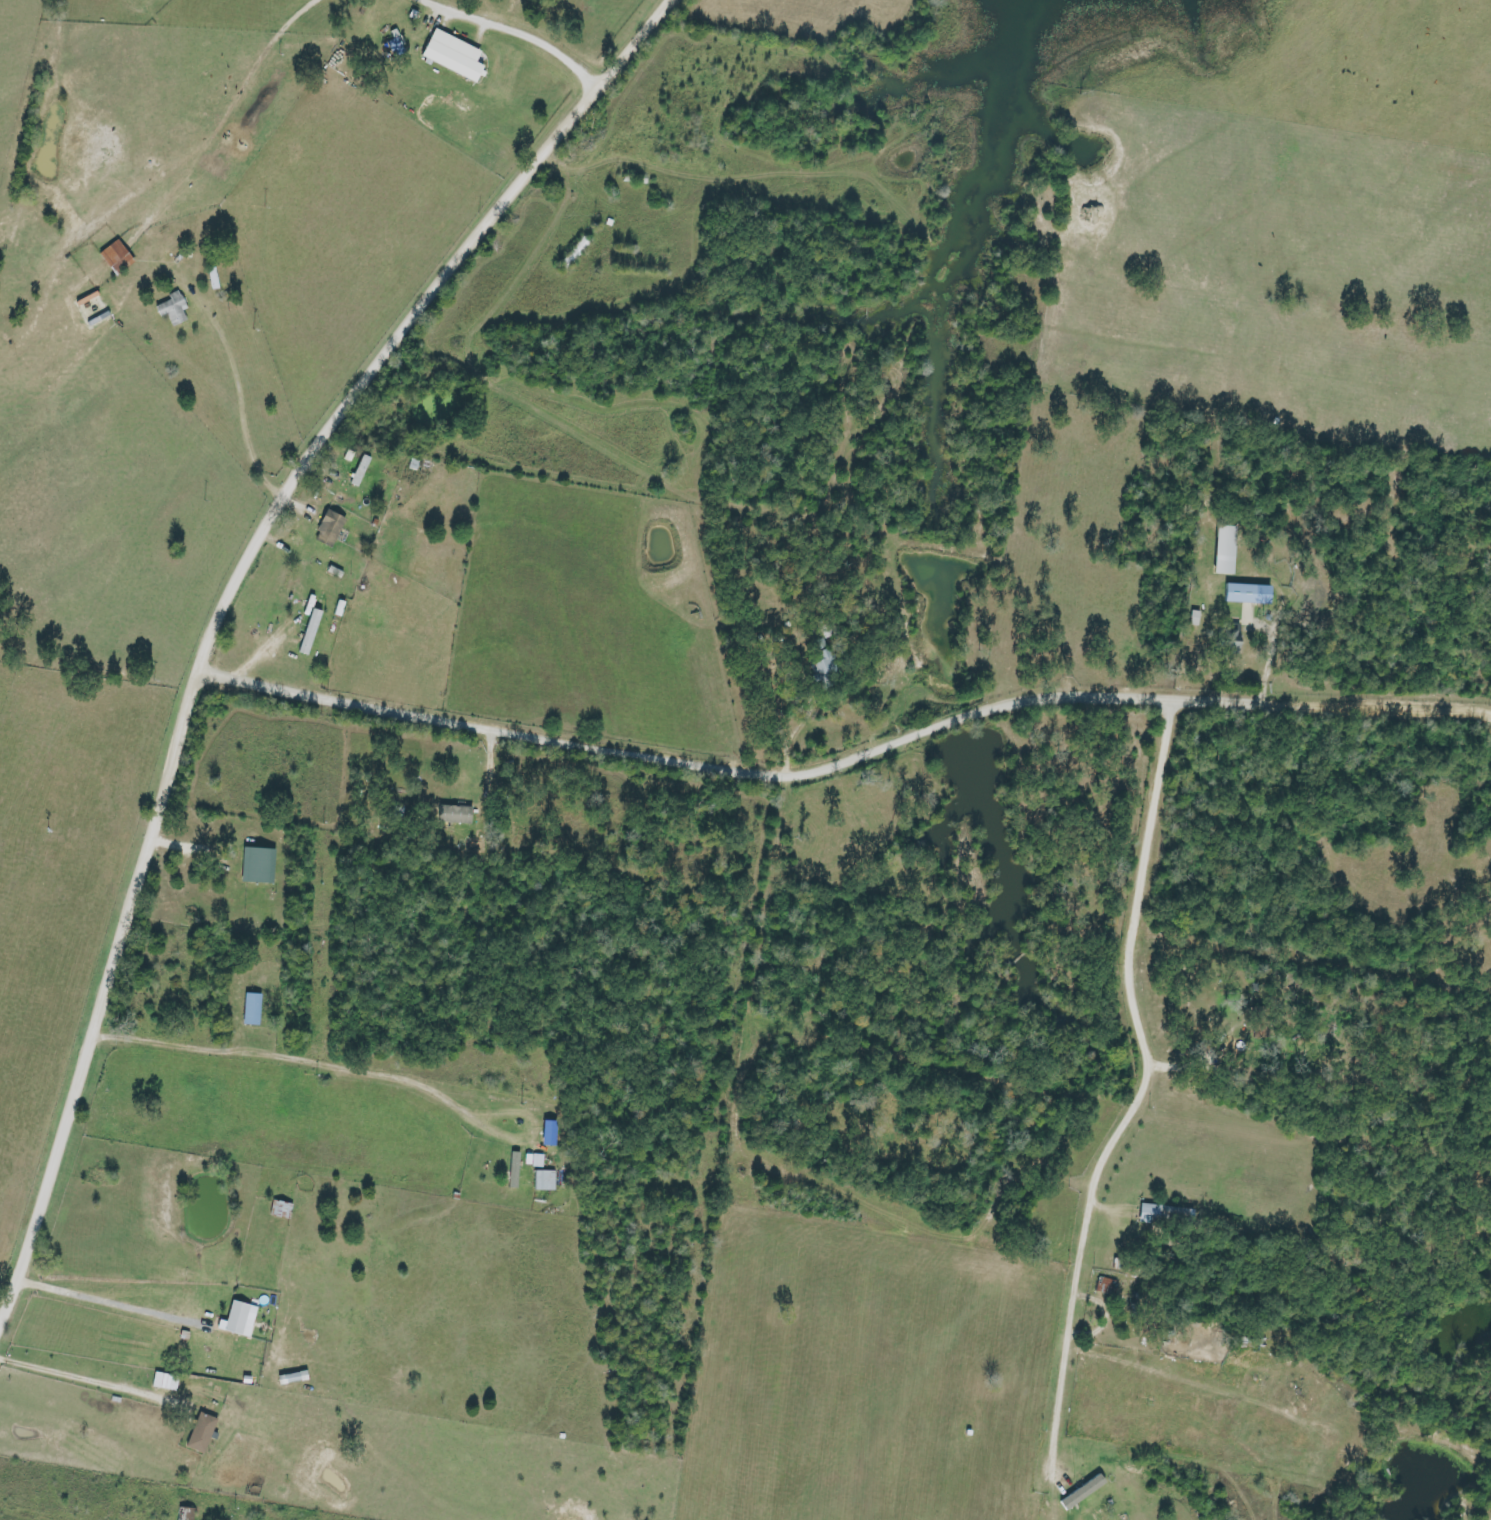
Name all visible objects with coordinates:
building: (452, 55)
building: (116, 257)
building: (173, 309)
building: (360, 470)
building: (329, 528)
building: (1224, 549)
building: (1247, 593)
road: (226, 613)
building: (310, 631)
building: (1227, 640)
building: (824, 662)
road: (847, 757)
building: (454, 814)
building: (257, 865)
building: (251, 1009)
road: (1156, 1090)
building: (549, 1133)
building: (538, 1161)
building: (545, 1180)
building: (1162, 1213)
building: (239, 1319)
building: (165, 1382)
building: (201, 1433)
building: (1082, 1492)
building: (185, 1514)

